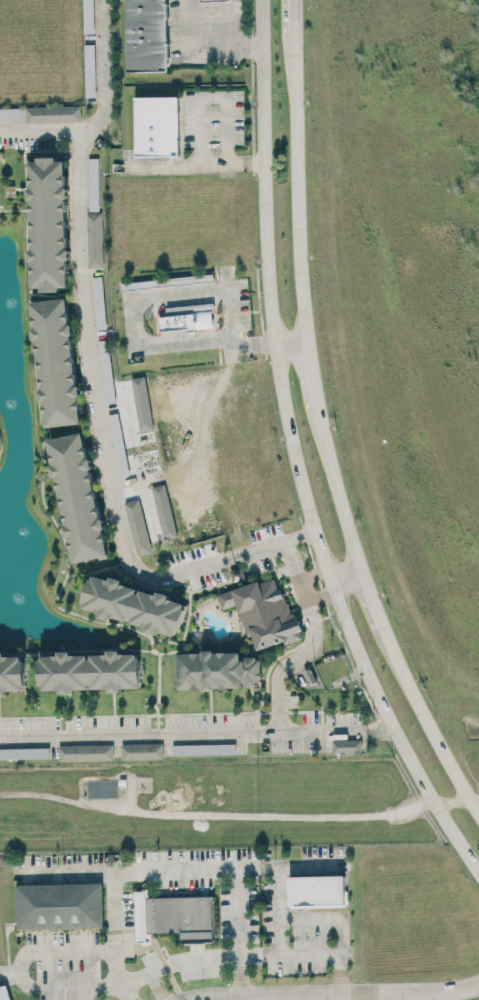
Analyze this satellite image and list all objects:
building: (214, 0)
road: (293, 9)
building: (88, 13)
building: (147, 35)
road: (206, 42)
building: (90, 70)
road: (220, 97)
road: (103, 111)
building: (12, 112)
building: (54, 113)
building: (157, 126)
road: (297, 178)
building: (94, 184)
building: (49, 224)
building: (95, 239)
road: (180, 294)
building: (99, 302)
road: (230, 313)
building: (189, 318)
road: (290, 340)
road: (160, 344)
road: (254, 344)
building: (57, 362)
building: (106, 371)
road: (311, 371)
road: (96, 402)
building: (119, 444)
road: (294, 455)
road: (336, 487)
building: (78, 497)
building: (138, 526)
road: (274, 545)
building: (237, 574)
road: (346, 575)
road: (330, 581)
road: (371, 598)
building: (132, 604)
building: (264, 611)
road: (308, 611)
building: (217, 670)
building: (90, 671)
building: (12, 672)
road: (277, 699)
road: (426, 720)
road: (195, 733)
building: (347, 745)
building: (142, 751)
building: (86, 752)
building: (24, 753)
road: (453, 802)
road: (266, 814)
road: (180, 870)
building: (317, 890)
building: (60, 905)
road: (279, 912)
building: (176, 917)
road: (309, 918)
road: (239, 933)
road: (114, 938)
road: (339, 956)
road: (233, 958)
road: (9, 970)
road: (19, 970)
road: (158, 986)
building: (6, 993)
road: (340, 995)
road: (440, 996)
road: (357, 997)
road: (264, 998)

